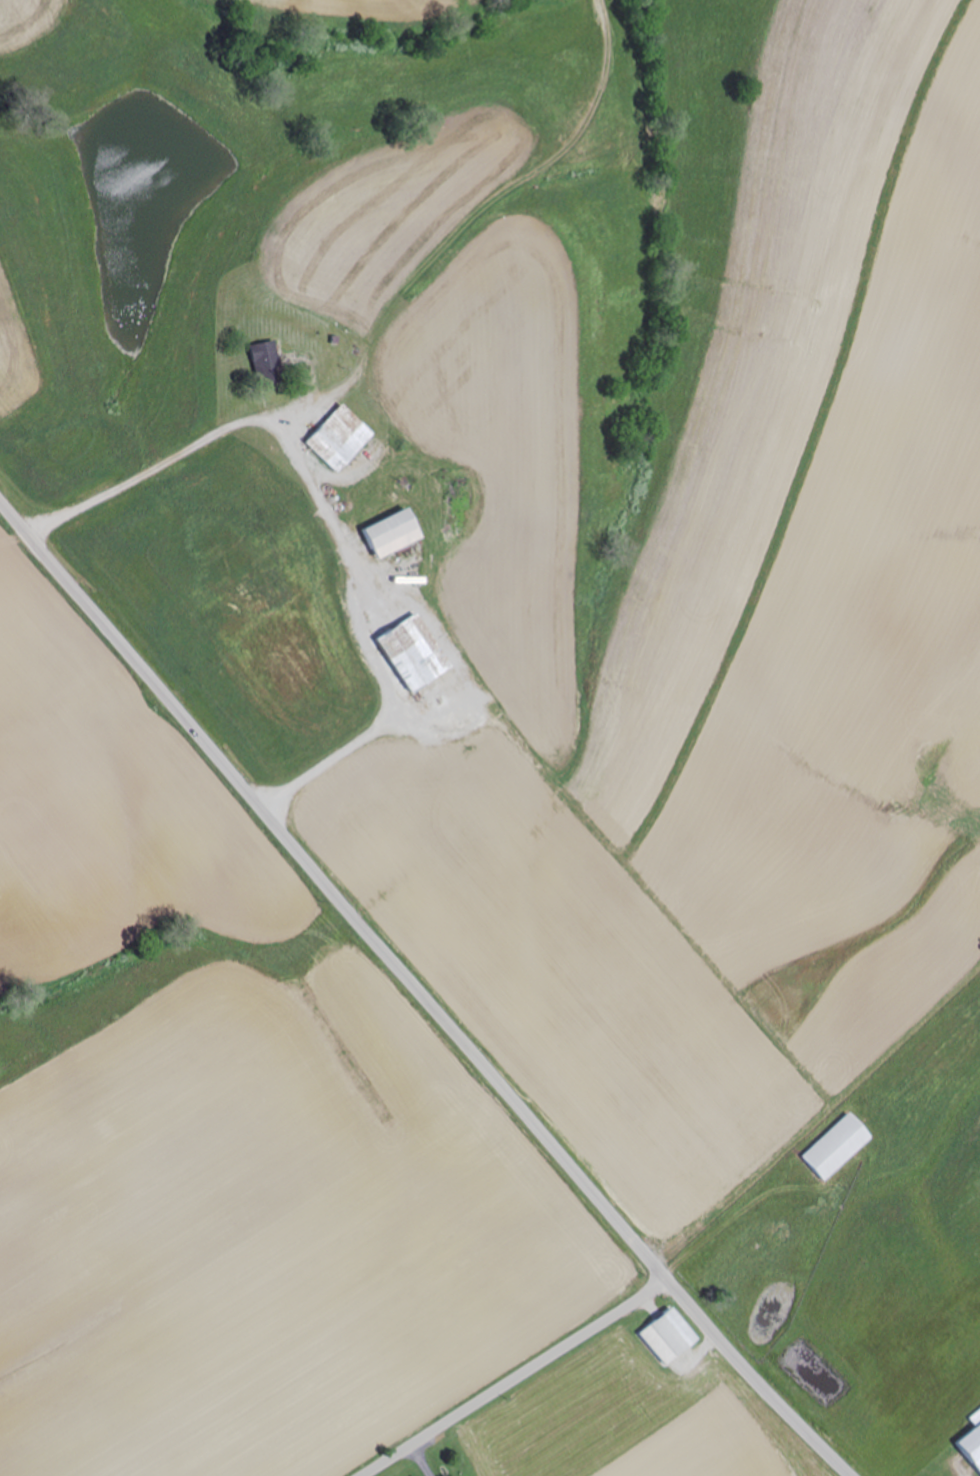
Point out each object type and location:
building: (266, 363)
building: (338, 438)
road: (336, 516)
building: (389, 533)
building: (411, 652)
road: (417, 991)
building: (833, 1147)
building: (665, 1336)
road: (512, 1378)

